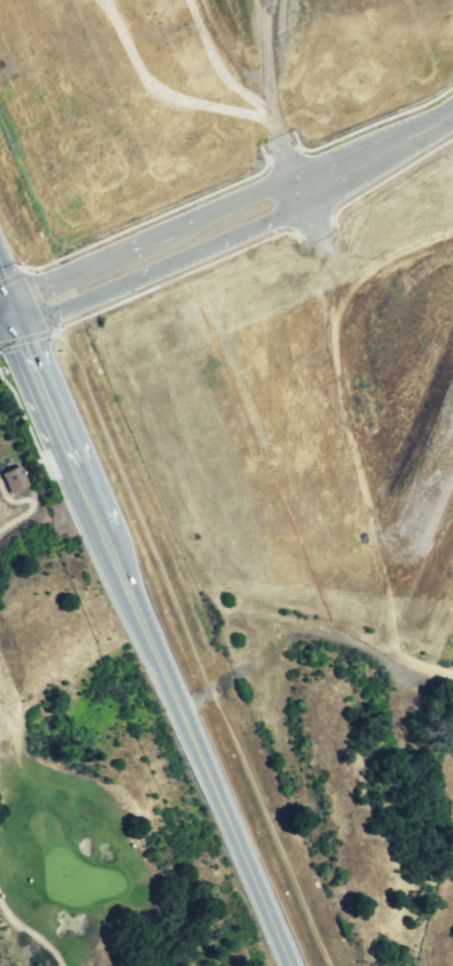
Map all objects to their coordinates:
park: (189, 98)
road: (370, 124)
road: (282, 152)
road: (376, 155)
road: (389, 176)
road: (297, 188)
road: (232, 202)
road: (155, 216)
road: (263, 223)
road: (313, 225)
road: (88, 265)
road: (173, 277)
road: (118, 286)
road: (3, 292)
traffic signals: (7, 300)
road: (3, 301)
road: (42, 312)
road: (13, 314)
traffic signals: (19, 329)
road: (9, 331)
road: (41, 384)
road: (70, 454)
road: (81, 479)
building: (13, 480)
road: (95, 512)
road: (20, 514)
road: (198, 749)
park: (81, 771)
road: (30, 927)

